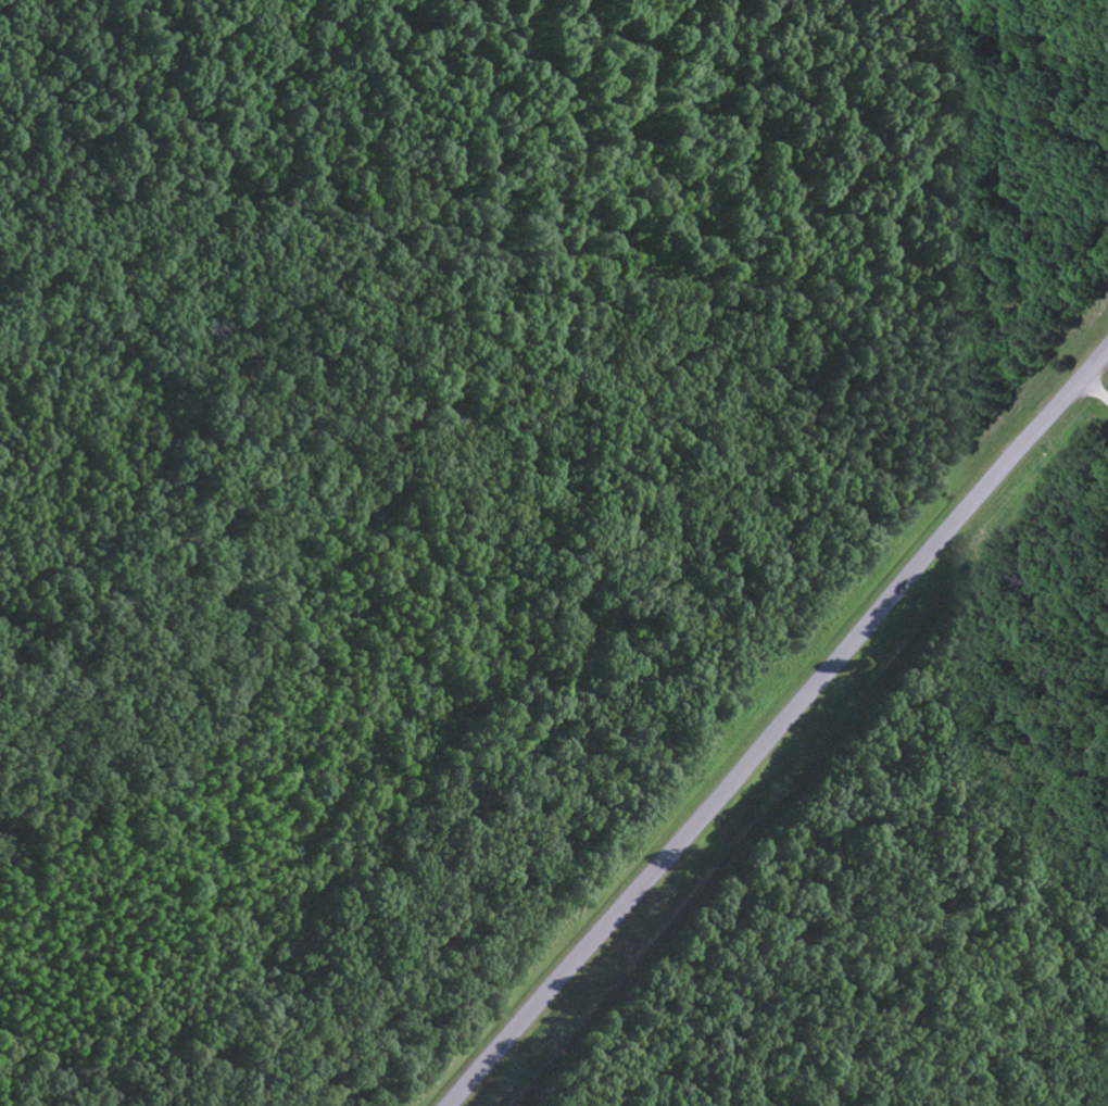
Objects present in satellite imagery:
road: (1094, 391)
road: (780, 728)

